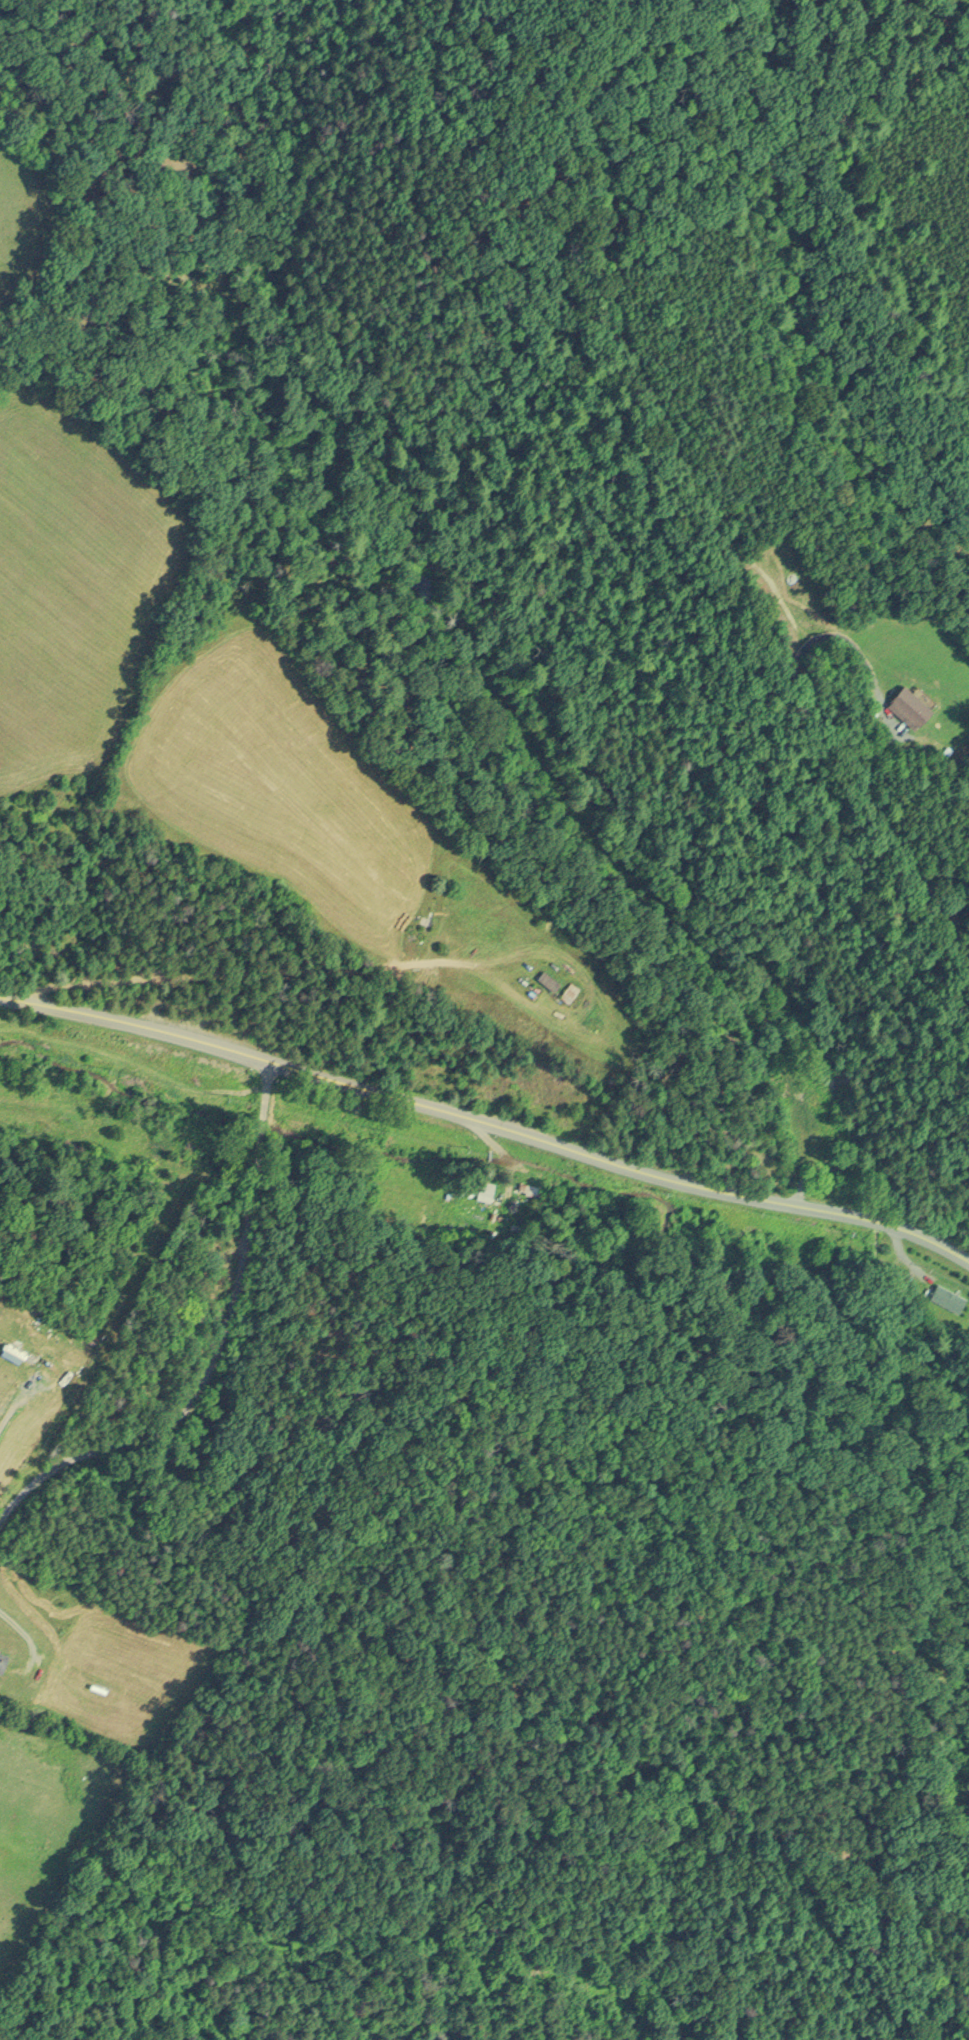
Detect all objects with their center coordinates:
building: (911, 706)
road: (902, 849)
building: (551, 979)
building: (572, 991)
road: (134, 1030)
road: (469, 1124)
building: (484, 1189)
road: (733, 1199)
road: (886, 1228)
building: (948, 1297)
road: (205, 1331)
building: (4, 1660)

